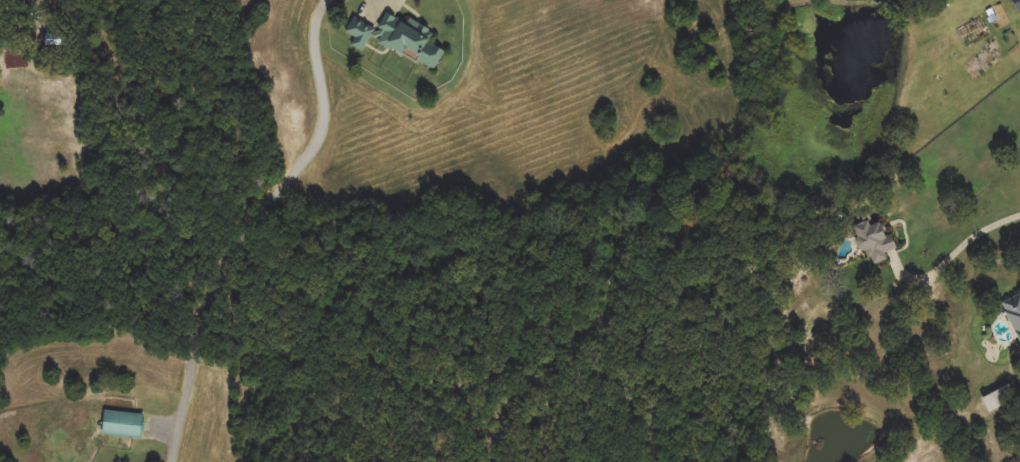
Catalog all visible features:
road: (384, 6)
building: (399, 38)
building: (17, 56)
road: (257, 226)
building: (875, 240)
road: (964, 246)
building: (1014, 313)
building: (123, 424)

